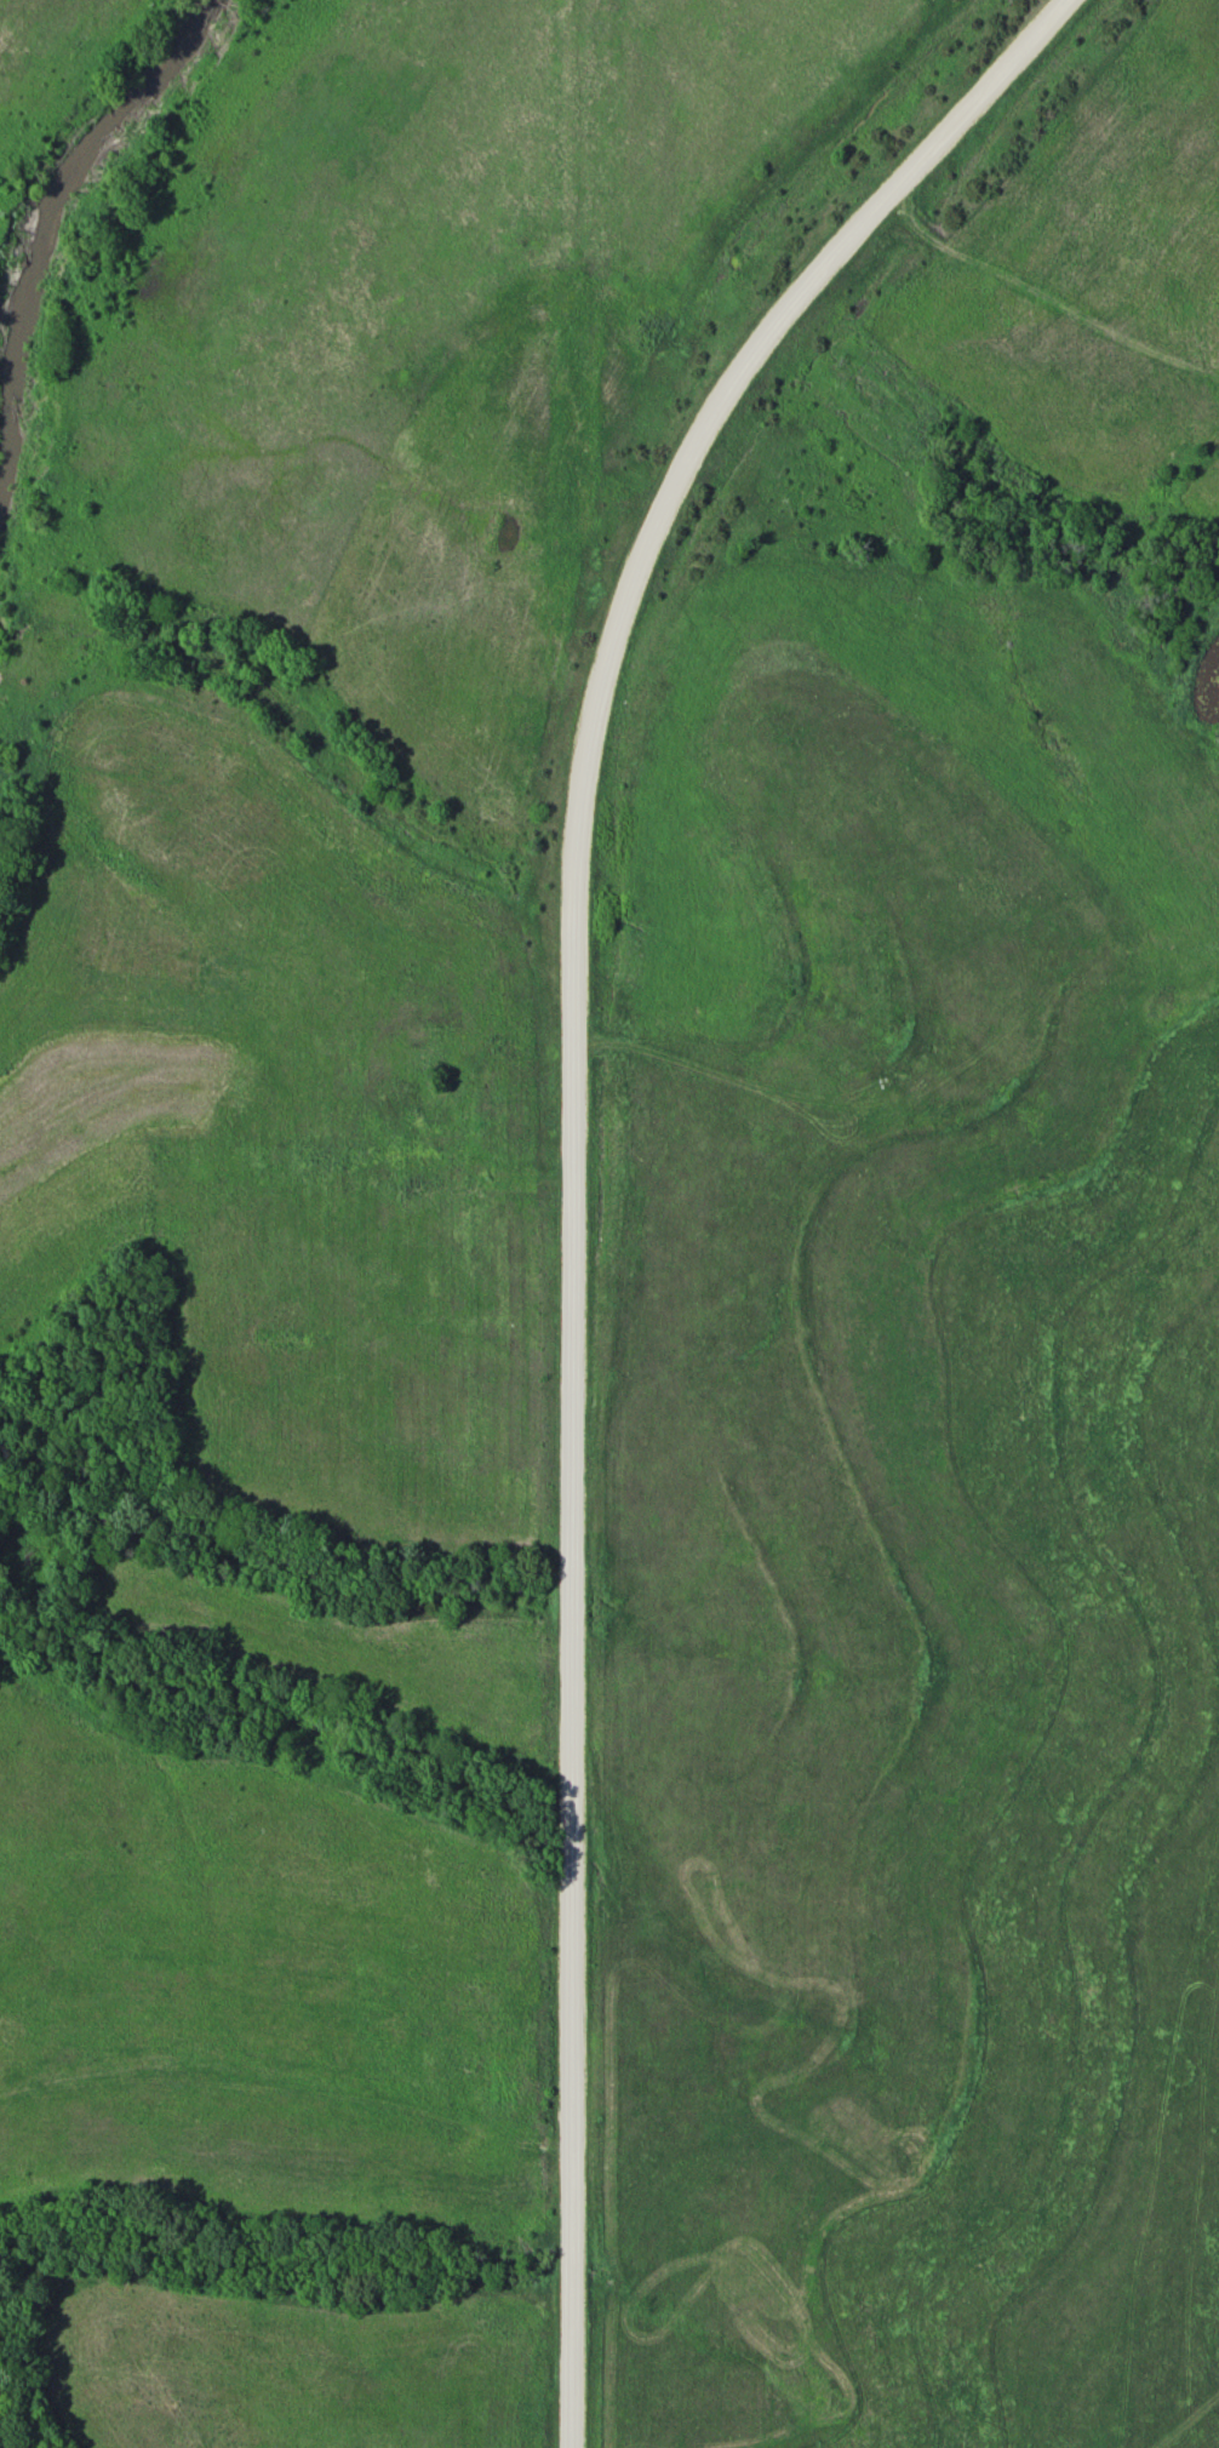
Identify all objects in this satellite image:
river: (64, 241)
road: (573, 1145)

